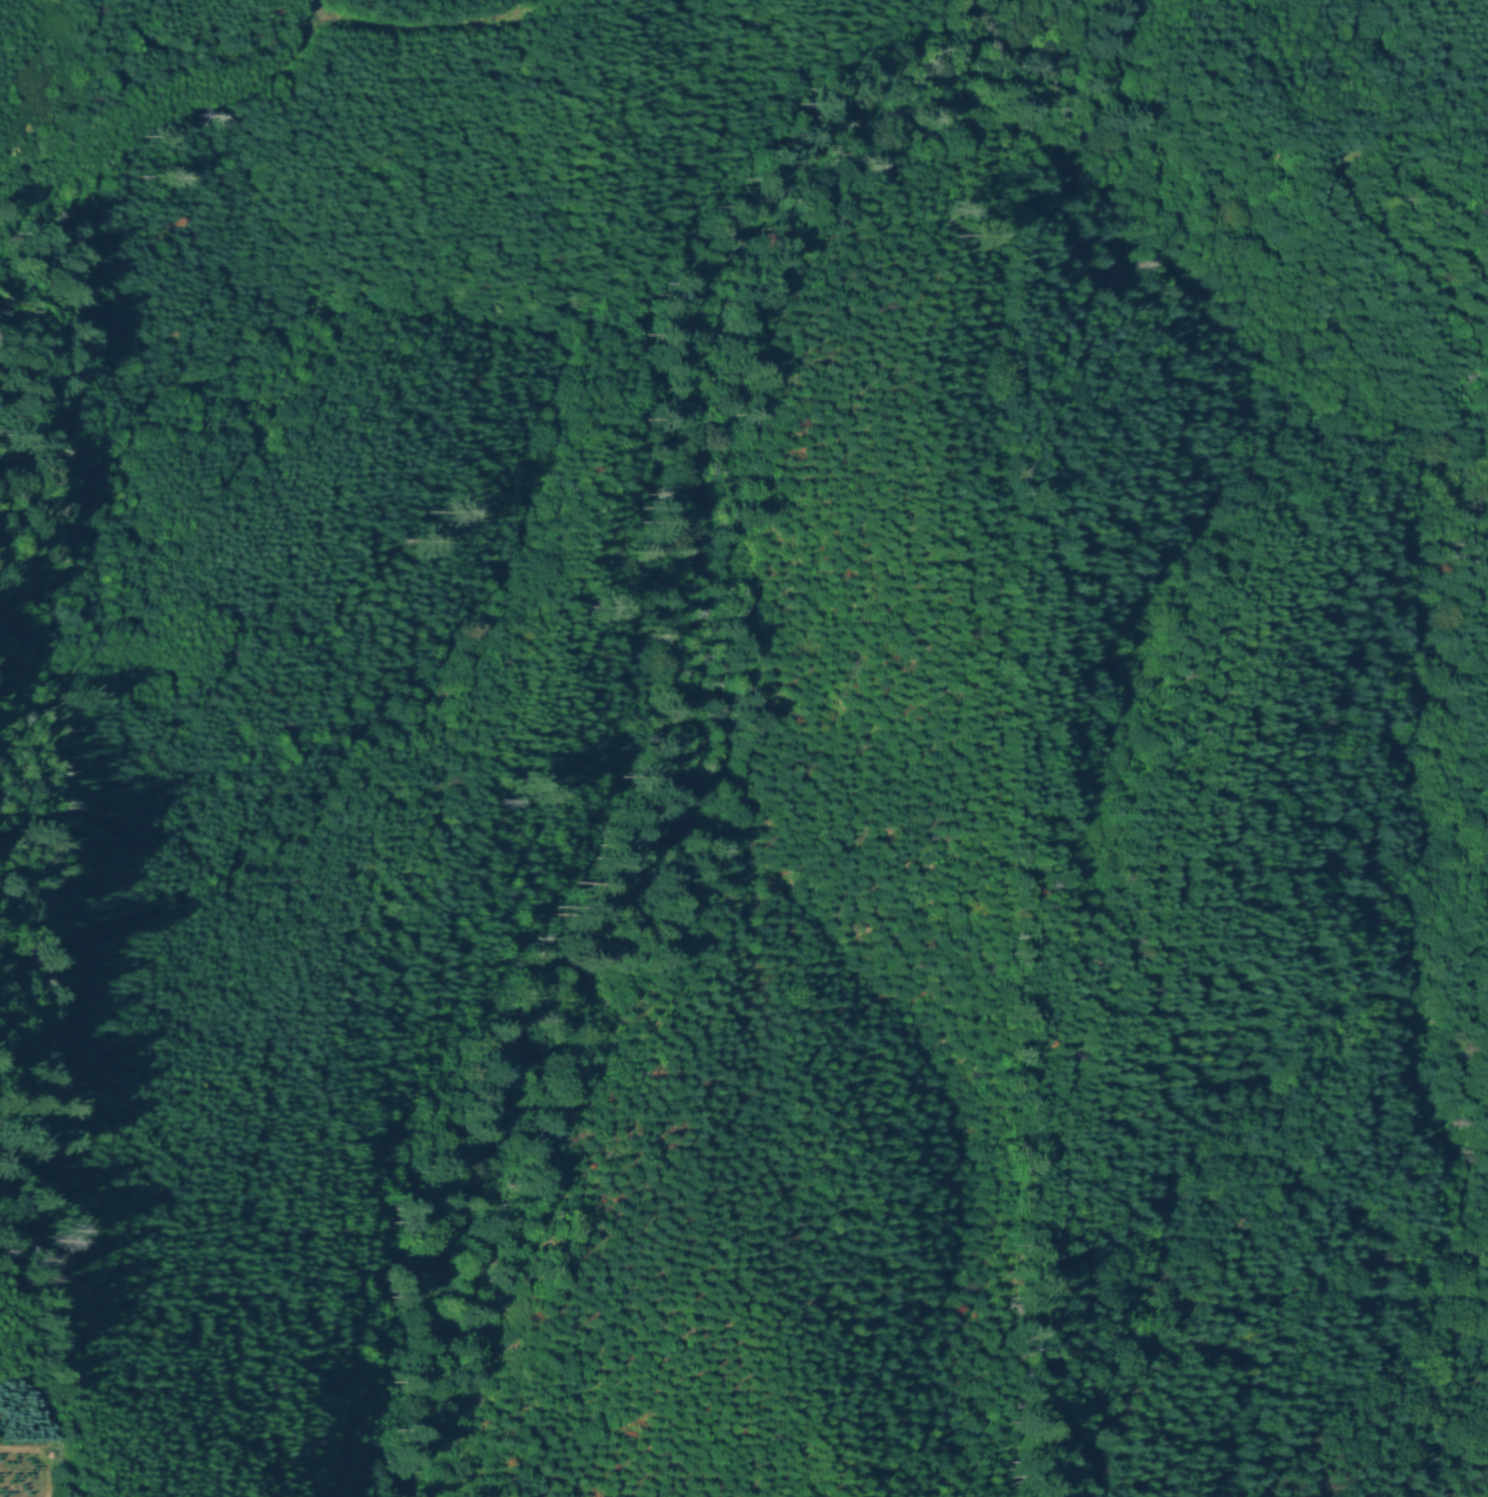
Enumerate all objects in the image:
road: (413, 29)
road: (300, 39)

